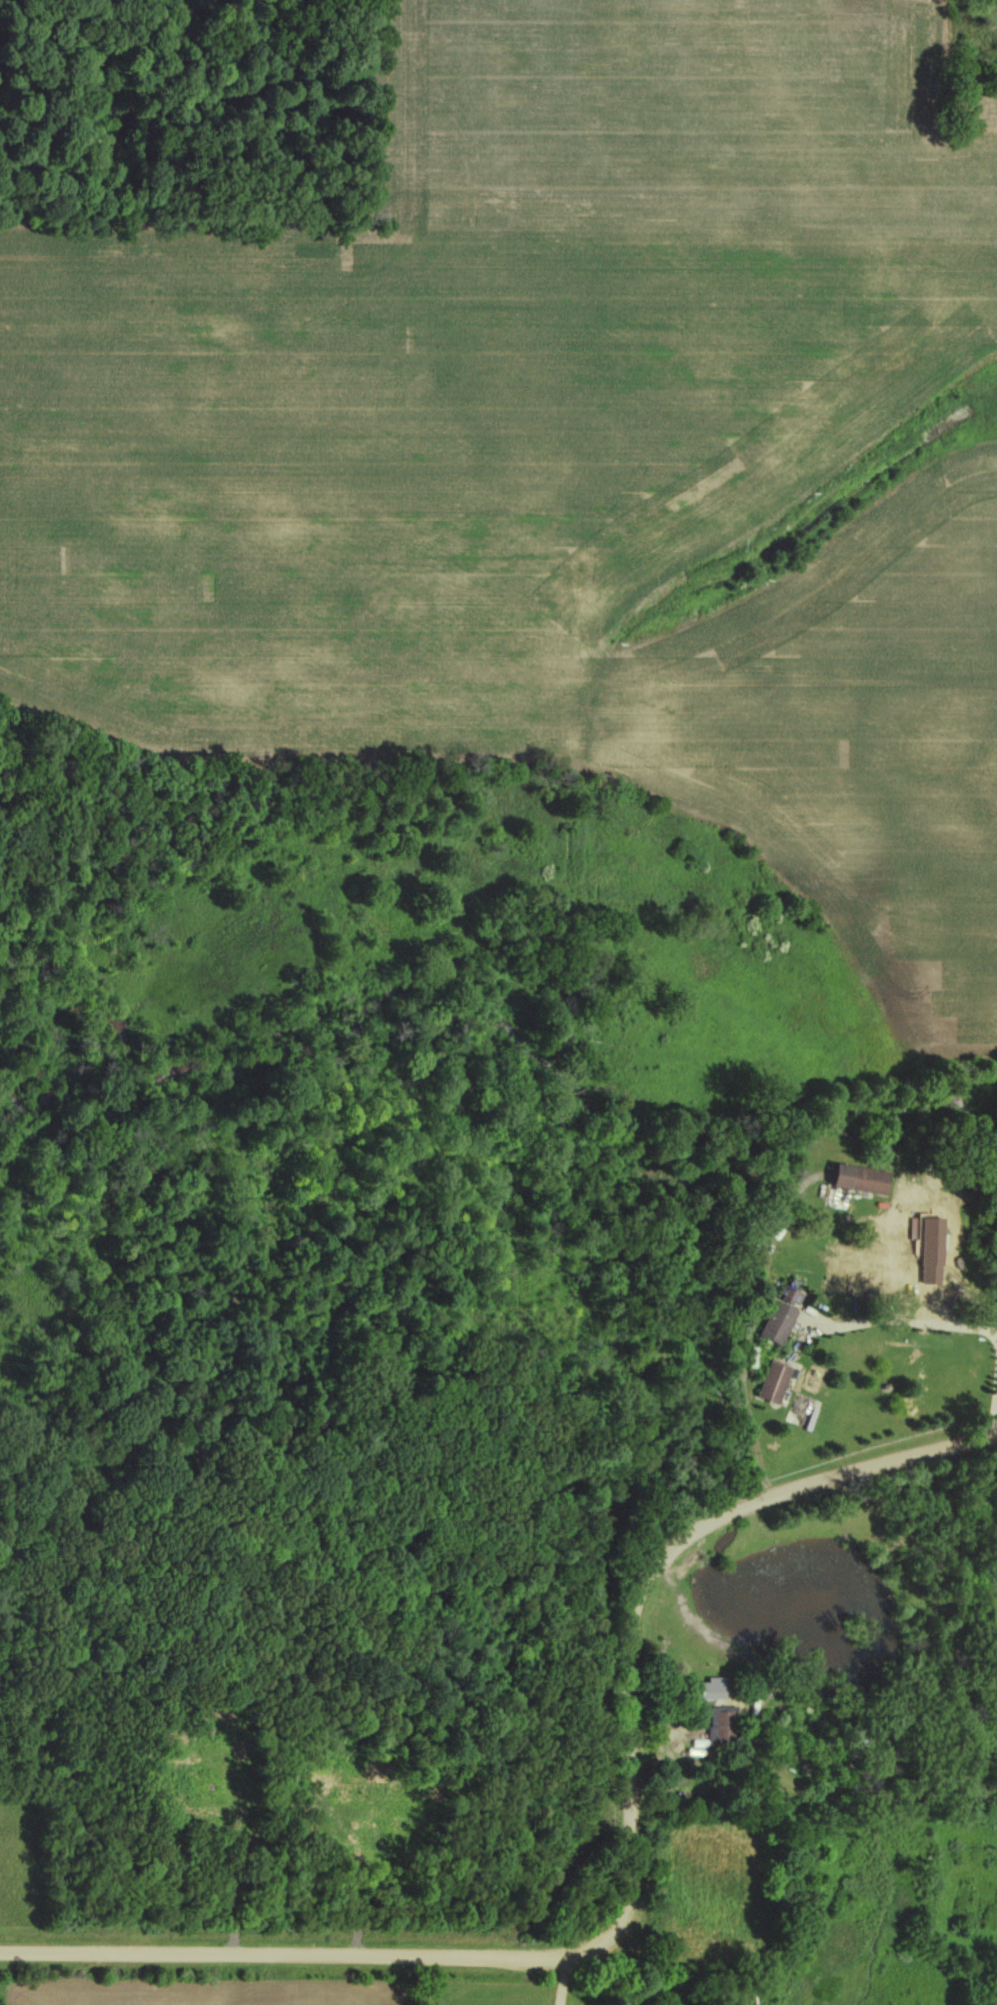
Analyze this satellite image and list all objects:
building: (848, 1183)
building: (864, 1271)
building: (772, 1321)
road: (948, 1323)
building: (768, 1382)
building: (717, 1728)
road: (634, 1874)
road: (558, 1983)

